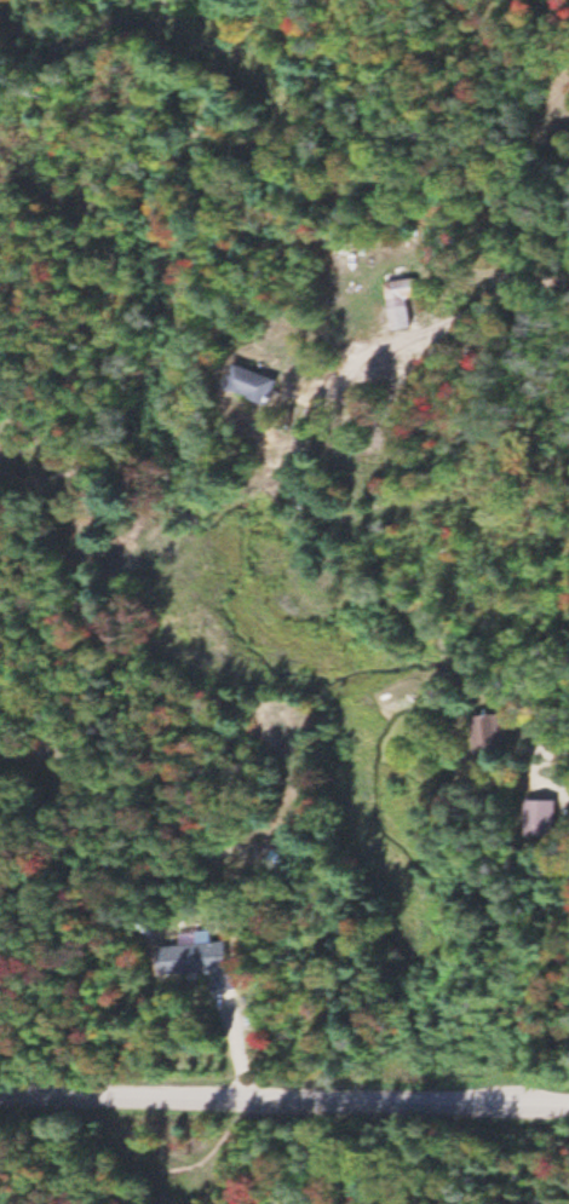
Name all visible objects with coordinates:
building: (404, 299)
road: (433, 324)
building: (261, 384)
building: (496, 733)
road: (551, 749)
road: (547, 772)
building: (546, 818)
building: (203, 961)
road: (242, 1100)
road: (528, 1102)
road: (183, 1152)

